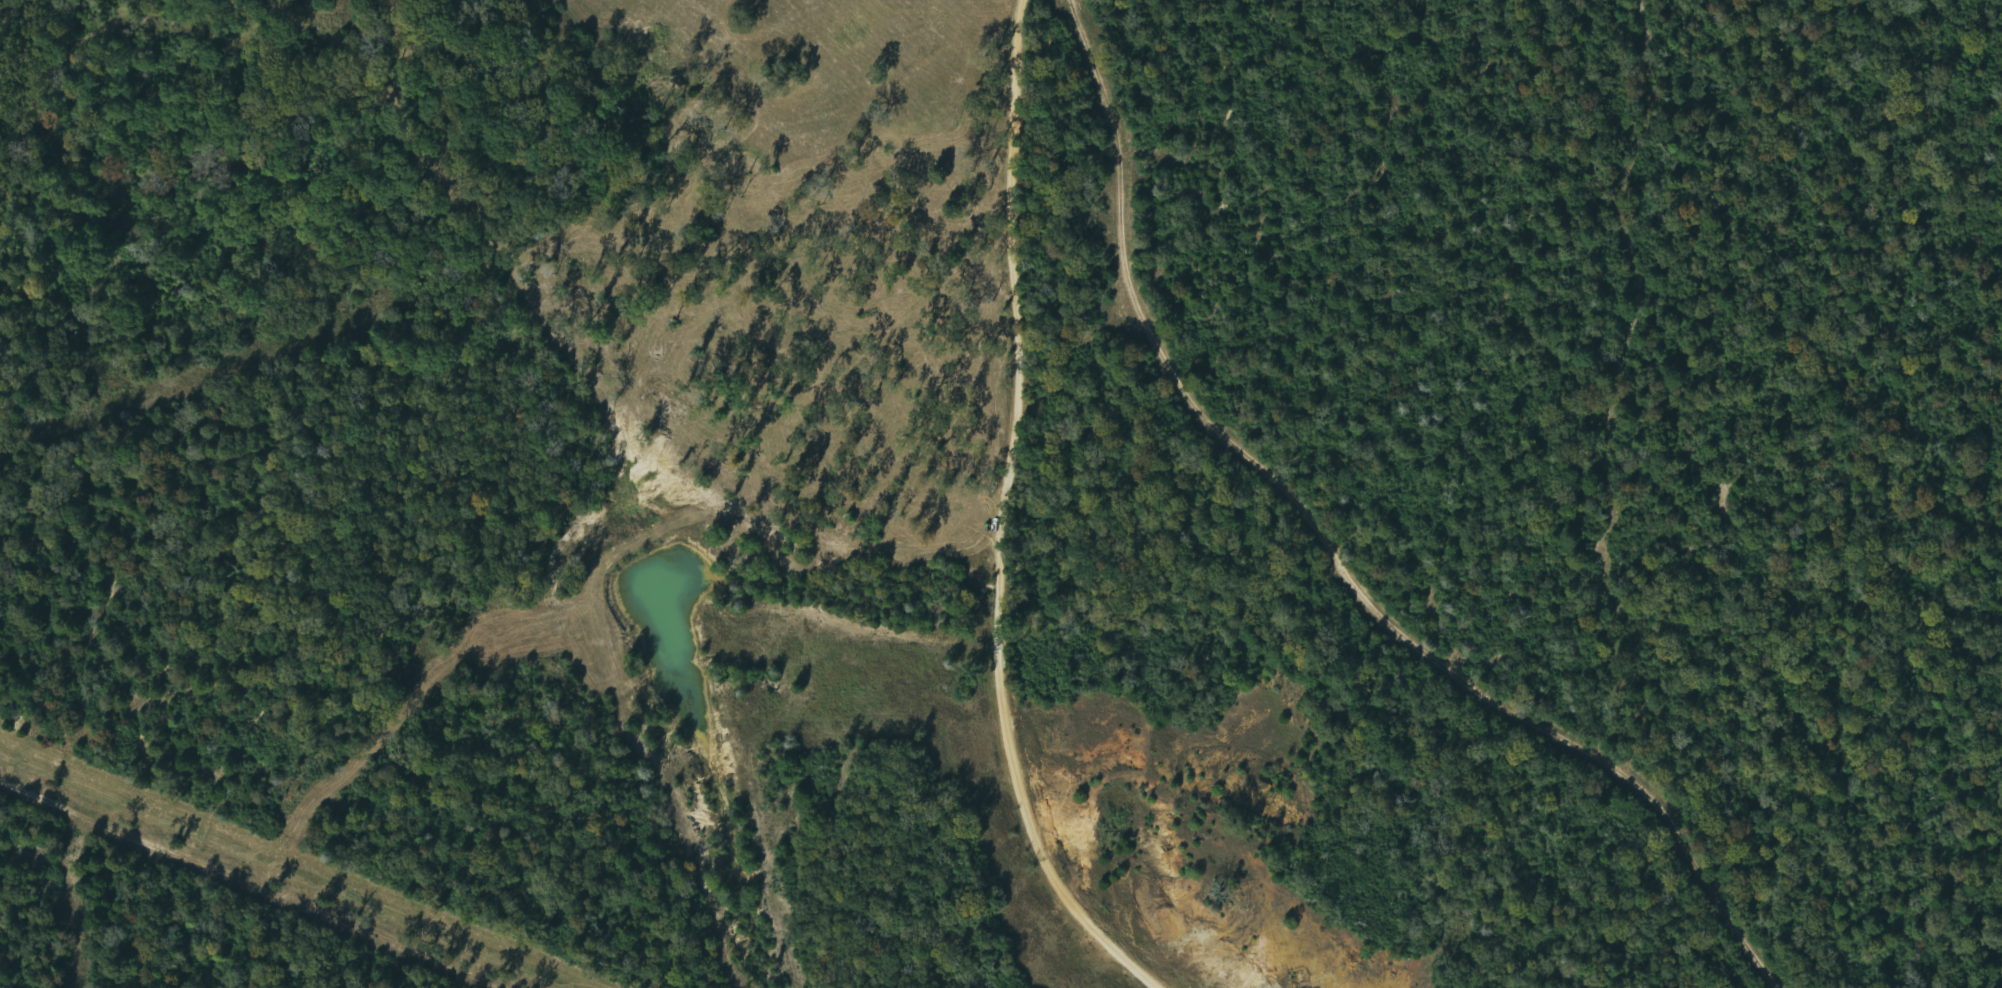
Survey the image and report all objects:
road: (1016, 516)

